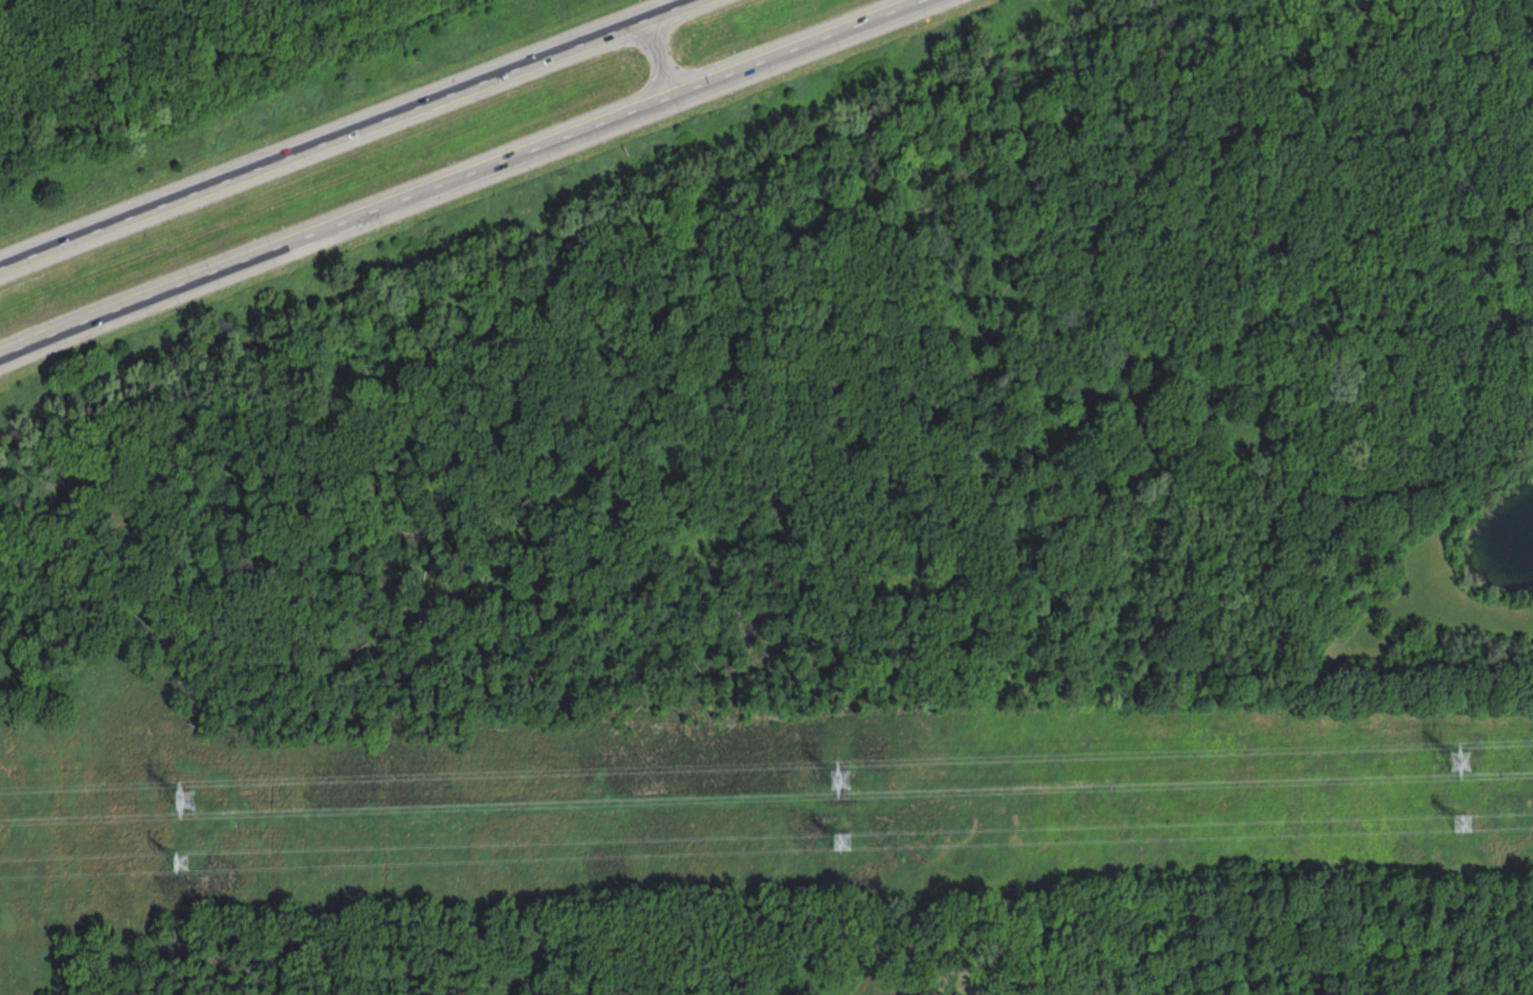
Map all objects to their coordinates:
road: (659, 58)
road: (345, 131)
road: (464, 179)
power tower: (1460, 759)
power tower: (840, 778)
power tower: (184, 798)
power tower: (1462, 822)
power tower: (843, 840)
power tower: (181, 861)
building: (955, 994)

